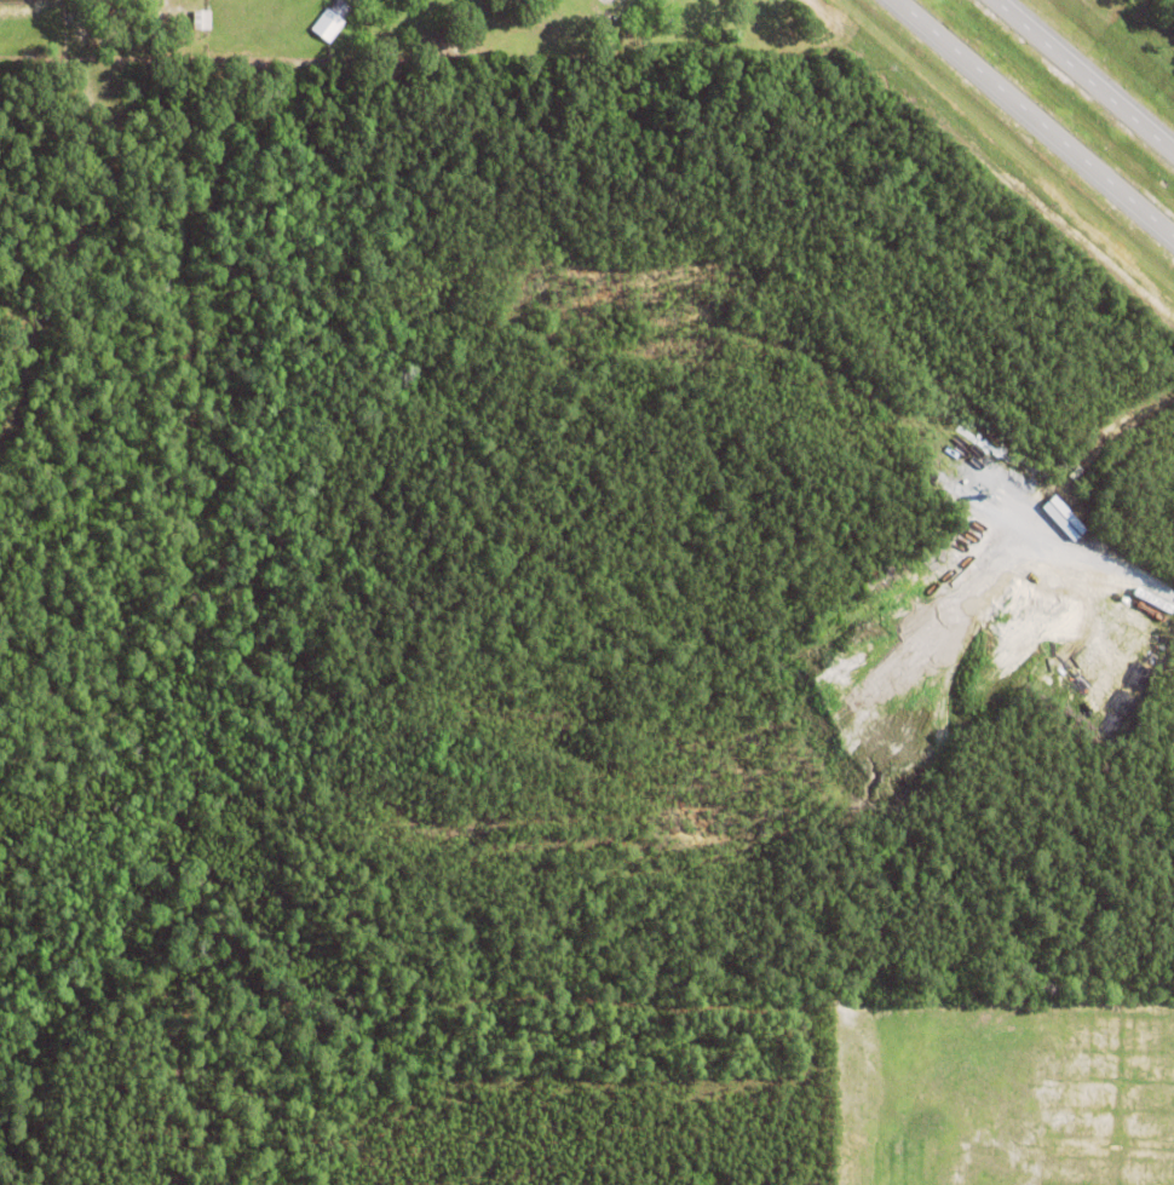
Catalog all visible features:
building: (355, 0)
building: (715, 17)
building: (202, 19)
building: (332, 21)
road: (1082, 76)
road: (1034, 119)

